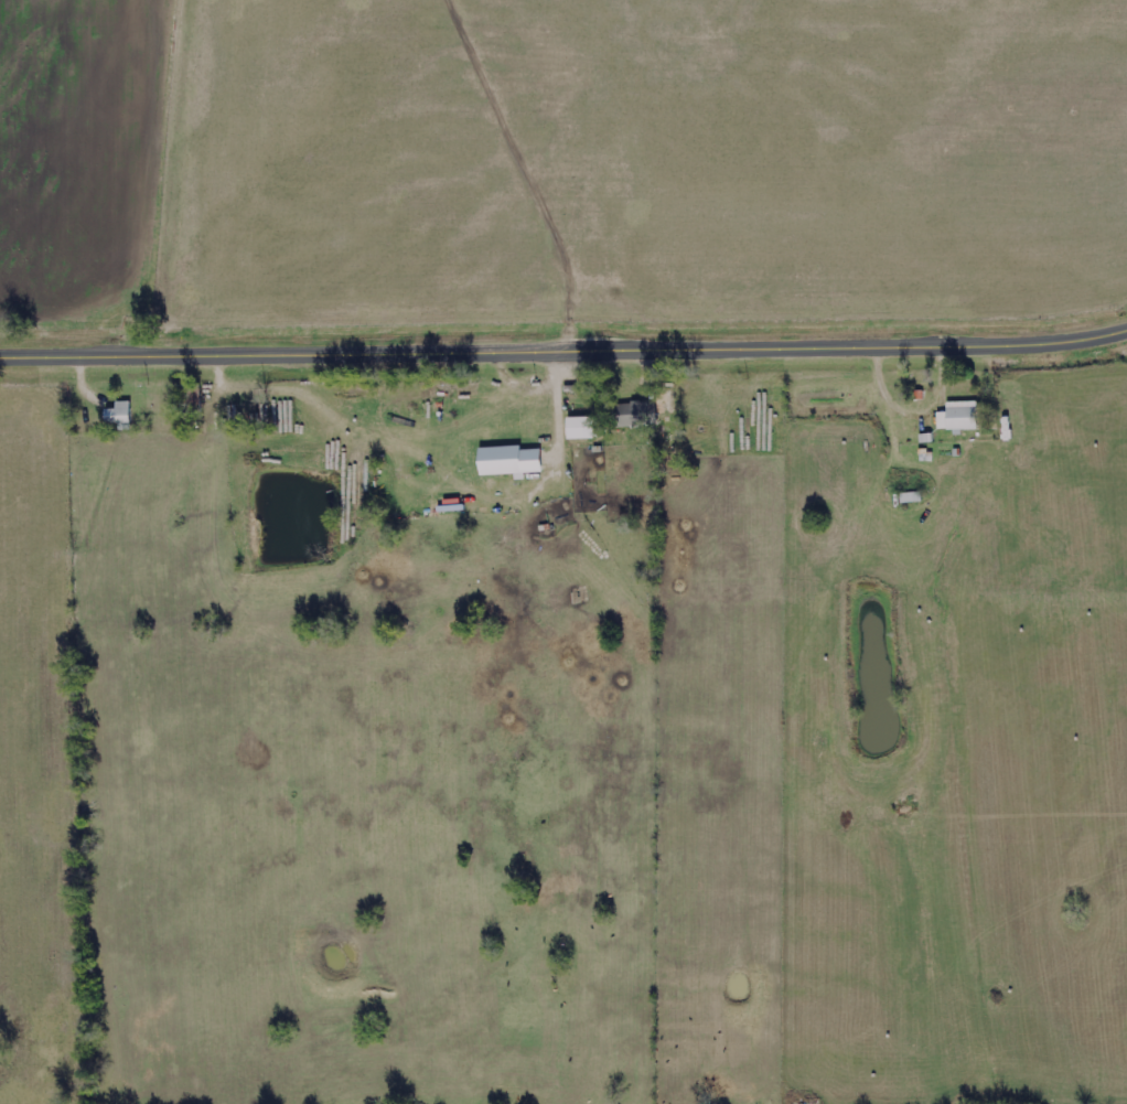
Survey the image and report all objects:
road: (563, 352)
building: (634, 414)
building: (119, 415)
building: (958, 416)
building: (580, 427)
building: (508, 461)

